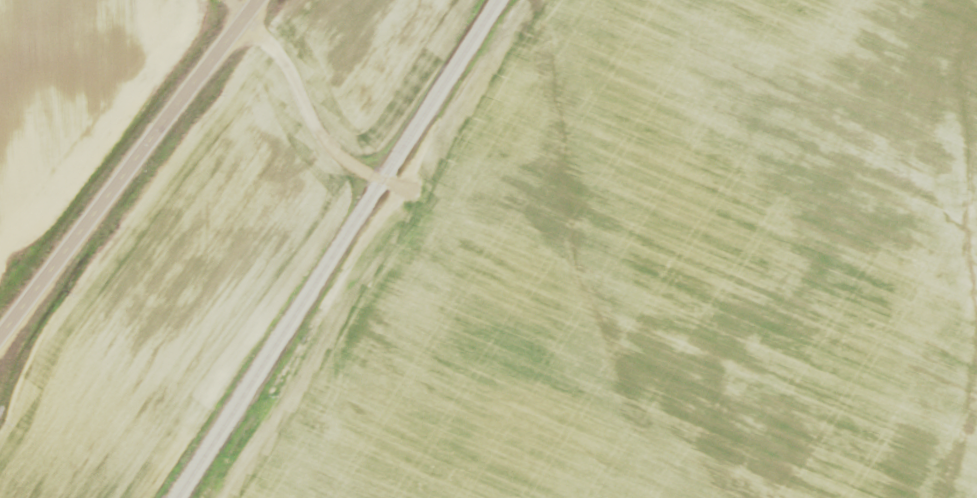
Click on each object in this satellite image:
road: (125, 164)
road: (373, 176)
railway: (333, 247)

